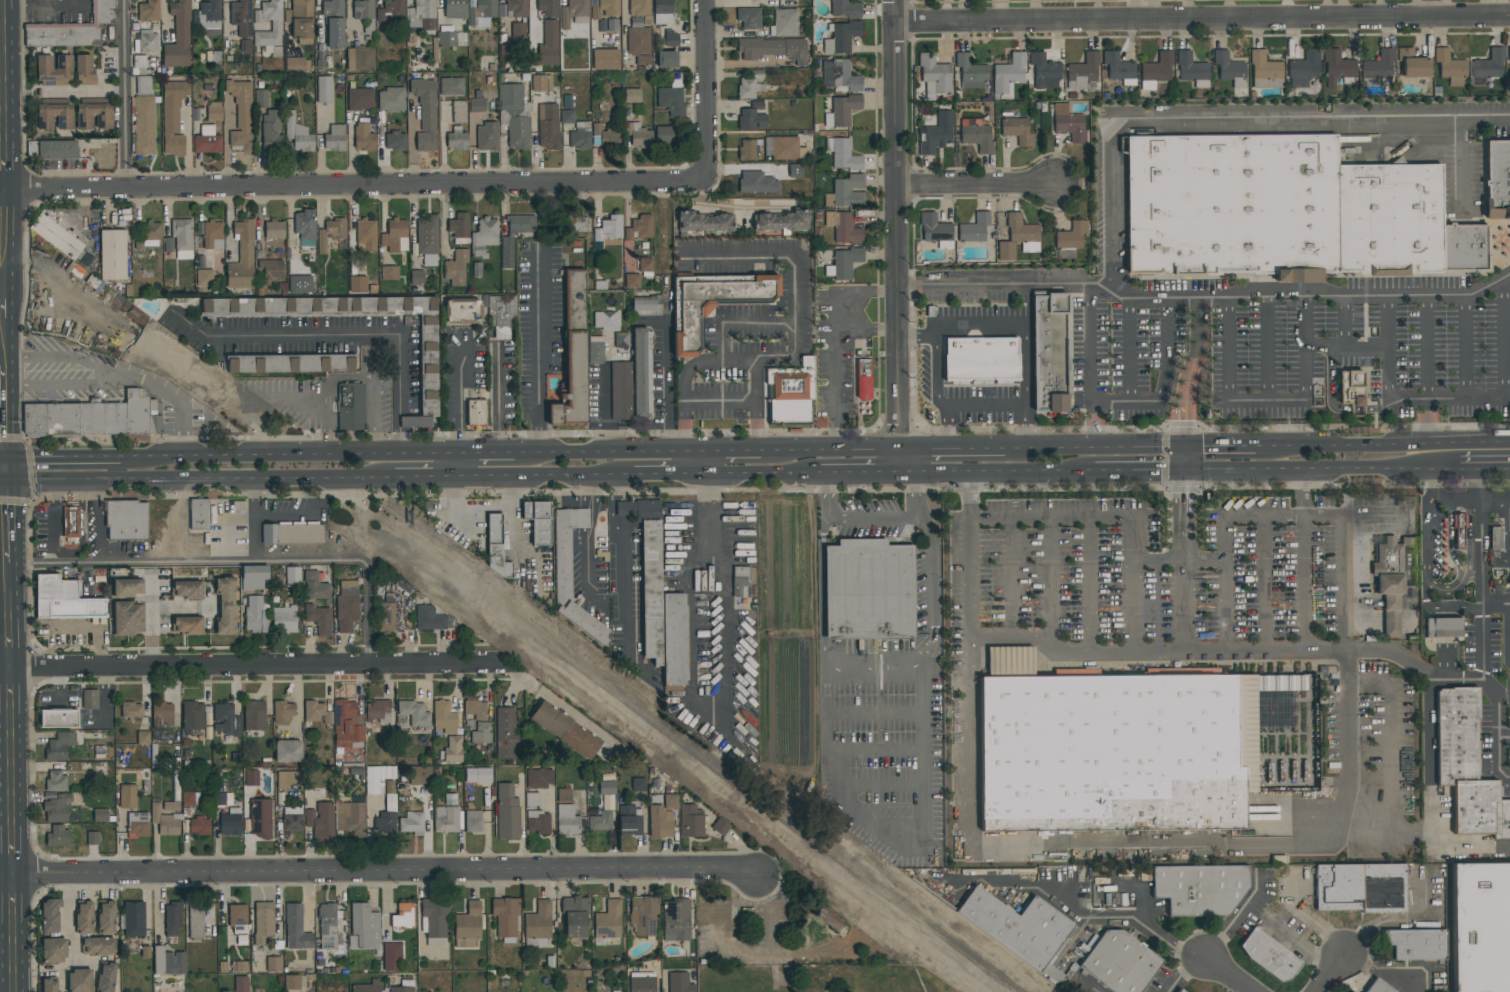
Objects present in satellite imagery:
road: (1437, 7)
road: (67, 8)
building: (516, 8)
building: (548, 8)
building: (639, 8)
building: (845, 8)
building: (363, 9)
building: (455, 9)
building: (605, 9)
building: (391, 10)
building: (149, 11)
building: (573, 11)
building: (481, 12)
building: (662, 12)
building: (209, 15)
building: (422, 15)
road: (1201, 17)
building: (240, 19)
building: (302, 19)
building: (749, 19)
building: (784, 23)
building: (334, 24)
building: (276, 26)
building: (71, 29)
road: (736, 34)
building: (178, 36)
building: (841, 37)
building: (449, 39)
building: (671, 40)
building: (148, 41)
building: (639, 44)
building: (245, 46)
building: (773, 49)
building: (1508, 54)
building: (360, 58)
building: (605, 59)
building: (666, 59)
building: (297, 64)
building: (1412, 64)
building: (1489, 65)
building: (1379, 66)
building: (1337, 67)
building: (1450, 67)
building: (1119, 68)
building: (1228, 68)
building: (970, 69)
building: (1157, 69)
building: (1303, 69)
building: (53, 70)
building: (84, 70)
building: (1191, 70)
building: (1044, 71)
building: (1083, 71)
building: (1008, 73)
building: (934, 75)
building: (758, 76)
building: (839, 76)
building: (541, 83)
building: (143, 85)
building: (451, 86)
road: (705, 86)
building: (748, 88)
building: (325, 89)
road: (84, 91)
road: (125, 93)
road: (3, 95)
building: (632, 95)
building: (261, 98)
building: (672, 98)
building: (360, 99)
building: (391, 100)
building: (477, 105)
building: (842, 111)
building: (214, 112)
building: (241, 115)
building: (422, 115)
building: (94, 116)
building: (514, 116)
building: (54, 117)
building: (173, 117)
building: (752, 117)
road: (1227, 122)
building: (144, 125)
building: (1070, 125)
building: (548, 126)
building: (270, 128)
building: (1017, 131)
building: (297, 134)
building: (937, 134)
building: (638, 135)
building: (664, 135)
building: (580, 136)
building: (364, 137)
building: (487, 137)
building: (603, 137)
building: (334, 139)
building: (457, 139)
building: (207, 141)
building: (395, 141)
road: (227, 143)
building: (781, 148)
building: (57, 149)
building: (748, 150)
building: (844, 155)
road: (2, 167)
road: (1461, 167)
building: (795, 171)
building: (1497, 179)
building: (756, 182)
road: (354, 183)
road: (975, 187)
building: (847, 192)
road: (730, 209)
building: (1285, 210)
road: (229, 221)
building: (781, 221)
building: (705, 222)
building: (521, 224)
building: (579, 224)
building: (305, 225)
building: (459, 226)
building: (642, 226)
building: (843, 227)
building: (974, 228)
building: (274, 229)
building: (609, 229)
building: (934, 229)
building: (331, 233)
building: (211, 234)
building: (147, 235)
building: (366, 235)
road: (895, 235)
building: (395, 236)
building: (484, 236)
building: (1071, 236)
building: (57, 237)
building: (1018, 238)
road: (5, 239)
building: (180, 239)
building: (428, 240)
building: (507, 252)
road: (777, 253)
building: (112, 255)
building: (242, 257)
building: (845, 262)
building: (645, 265)
building: (456, 268)
building: (270, 270)
building: (389, 273)
building: (204, 277)
building: (632, 281)
building: (300, 283)
building: (358, 284)
road: (996, 286)
road: (2, 287)
road: (882, 292)
road: (1313, 294)
road: (836, 297)
road: (5, 301)
building: (646, 306)
building: (712, 307)
building: (463, 315)
building: (606, 321)
road: (763, 321)
road: (1000, 333)
road: (345, 336)
road: (4, 337)
building: (621, 340)
road: (1374, 348)
building: (595, 350)
road: (539, 353)
building: (1049, 353)
building: (574, 355)
road: (739, 357)
road: (836, 358)
road: (67, 359)
building: (982, 361)
road: (1091, 362)
building: (290, 364)
building: (429, 366)
building: (641, 372)
road: (936, 372)
road: (335, 379)
building: (863, 380)
road: (670, 384)
road: (65, 386)
building: (1352, 388)
building: (620, 391)
building: (789, 395)
road: (498, 397)
road: (289, 399)
road: (720, 400)
road: (175, 401)
road: (2, 404)
building: (351, 406)
road: (964, 407)
road: (3, 409)
road: (403, 411)
building: (476, 414)
building: (94, 417)
road: (406, 423)
road: (1427, 423)
road: (395, 424)
road: (1027, 428)
road: (406, 436)
road: (374, 438)
road: (1346, 446)
road: (401, 447)
road: (963, 449)
road: (1106, 449)
traffic signals: (1184, 449)
road: (723, 450)
road: (829, 450)
road: (599, 451)
road: (490, 452)
road: (293, 454)
road: (61, 456)
road: (1, 457)
traffic signals: (3, 457)
road: (693, 462)
road: (467, 465)
road: (1000, 468)
road: (1139, 468)
traffic signals: (1184, 468)
road: (1308, 468)
road: (3, 469)
road: (1471, 469)
road: (863, 470)
road: (759, 472)
road: (666, 474)
road: (1184, 474)
road: (550, 475)
road: (430, 477)
road: (198, 480)
road: (1, 481)
traffic signals: (3, 482)
road: (1301, 491)
road: (582, 492)
road: (3, 500)
road: (593, 502)
road: (709, 502)
road: (1439, 504)
building: (637, 508)
road: (481, 511)
road: (1495, 513)
building: (199, 514)
road: (2, 518)
building: (127, 520)
road: (583, 520)
road: (873, 520)
building: (538, 521)
building: (71, 522)
road: (512, 530)
building: (1460, 531)
building: (292, 534)
road: (1481, 536)
building: (1495, 538)
road: (4, 542)
road: (587, 542)
building: (496, 545)
road: (587, 563)
road: (234, 564)
building: (562, 565)
road: (2, 566)
road: (618, 569)
road: (1476, 576)
building: (253, 577)
building: (292, 577)
building: (740, 582)
building: (1389, 584)
building: (315, 587)
building: (127, 588)
building: (187, 590)
road: (1446, 590)
building: (870, 593)
road: (4, 594)
building: (64, 600)
building: (225, 606)
building: (347, 606)
building: (661, 612)
building: (255, 614)
building: (127, 618)
building: (285, 618)
building: (385, 618)
building: (429, 618)
building: (319, 619)
road: (96, 625)
building: (187, 625)
road: (1483, 628)
building: (1445, 630)
road: (1508, 634)
road: (6, 646)
road: (1153, 655)
road: (249, 667)
road: (875, 668)
road: (1428, 676)
road: (7, 691)
building: (90, 699)
building: (475, 708)
building: (377, 709)
building: (131, 710)
building: (283, 712)
building: (316, 712)
building: (162, 713)
building: (414, 713)
road: (716, 714)
building: (254, 715)
building: (193, 716)
building: (59, 718)
building: (443, 718)
building: (226, 720)
building: (567, 731)
building: (481, 733)
building: (506, 733)
building: (347, 734)
building: (143, 738)
road: (1499, 743)
building: (59, 746)
building: (453, 749)
building: (1139, 749)
building: (288, 751)
road: (9, 764)
building: (1468, 770)
building: (174, 773)
building: (478, 775)
building: (420, 776)
building: (251, 778)
building: (539, 778)
building: (287, 779)
building: (380, 780)
building: (56, 781)
building: (639, 786)
building: (608, 789)
building: (563, 795)
building: (128, 796)
road: (1430, 797)
building: (191, 799)
building: (222, 799)
building: (671, 802)
building: (169, 807)
building: (56, 808)
building: (507, 813)
building: (100, 815)
building: (261, 818)
building: (351, 818)
building: (292, 819)
building: (446, 819)
building: (321, 821)
building: (473, 821)
building: (567, 821)
building: (601, 821)
building: (165, 822)
building: (538, 822)
building: (629, 822)
building: (660, 822)
building: (691, 822)
road: (1345, 822)
building: (230, 823)
building: (386, 823)
building: (411, 823)
building: (138, 825)
building: (199, 826)
building: (721, 827)
building: (58, 836)
road: (1388, 837)
building: (93, 838)
road: (895, 841)
road: (10, 846)
road: (378, 871)
road: (1045, 888)
building: (1360, 888)
building: (1199, 890)
road: (11, 896)
building: (715, 912)
building: (50, 915)
building: (402, 916)
building: (505, 916)
building: (575, 917)
road: (70, 918)
building: (84, 918)
building: (106, 918)
building: (644, 918)
building: (134, 919)
building: (172, 919)
building: (238, 919)
building: (434, 920)
building: (677, 920)
building: (195, 921)
building: (263, 921)
building: (825, 921)
building: (609, 922)
building: (538, 925)
road: (1371, 925)
building: (327, 926)
building: (468, 926)
building: (364, 927)
building: (1481, 927)
building: (296, 928)
building: (1018, 928)
building: (737, 931)
road: (1156, 934)
building: (814, 935)
building: (1416, 944)
building: (97, 946)
building: (54, 951)
road: (771, 953)
road: (12, 954)
building: (1269, 955)
building: (392, 957)
building: (168, 962)
building: (1119, 962)
building: (274, 964)
road: (1183, 972)
road: (1330, 974)
road: (1226, 975)
building: (105, 978)
building: (79, 981)
building: (292, 982)
building: (642, 982)
building: (679, 982)
building: (240, 984)
building: (50, 985)
building: (367, 987)
building: (1378, 987)
building: (401, 989)
building: (225, 991)
building: (1179, 991)

